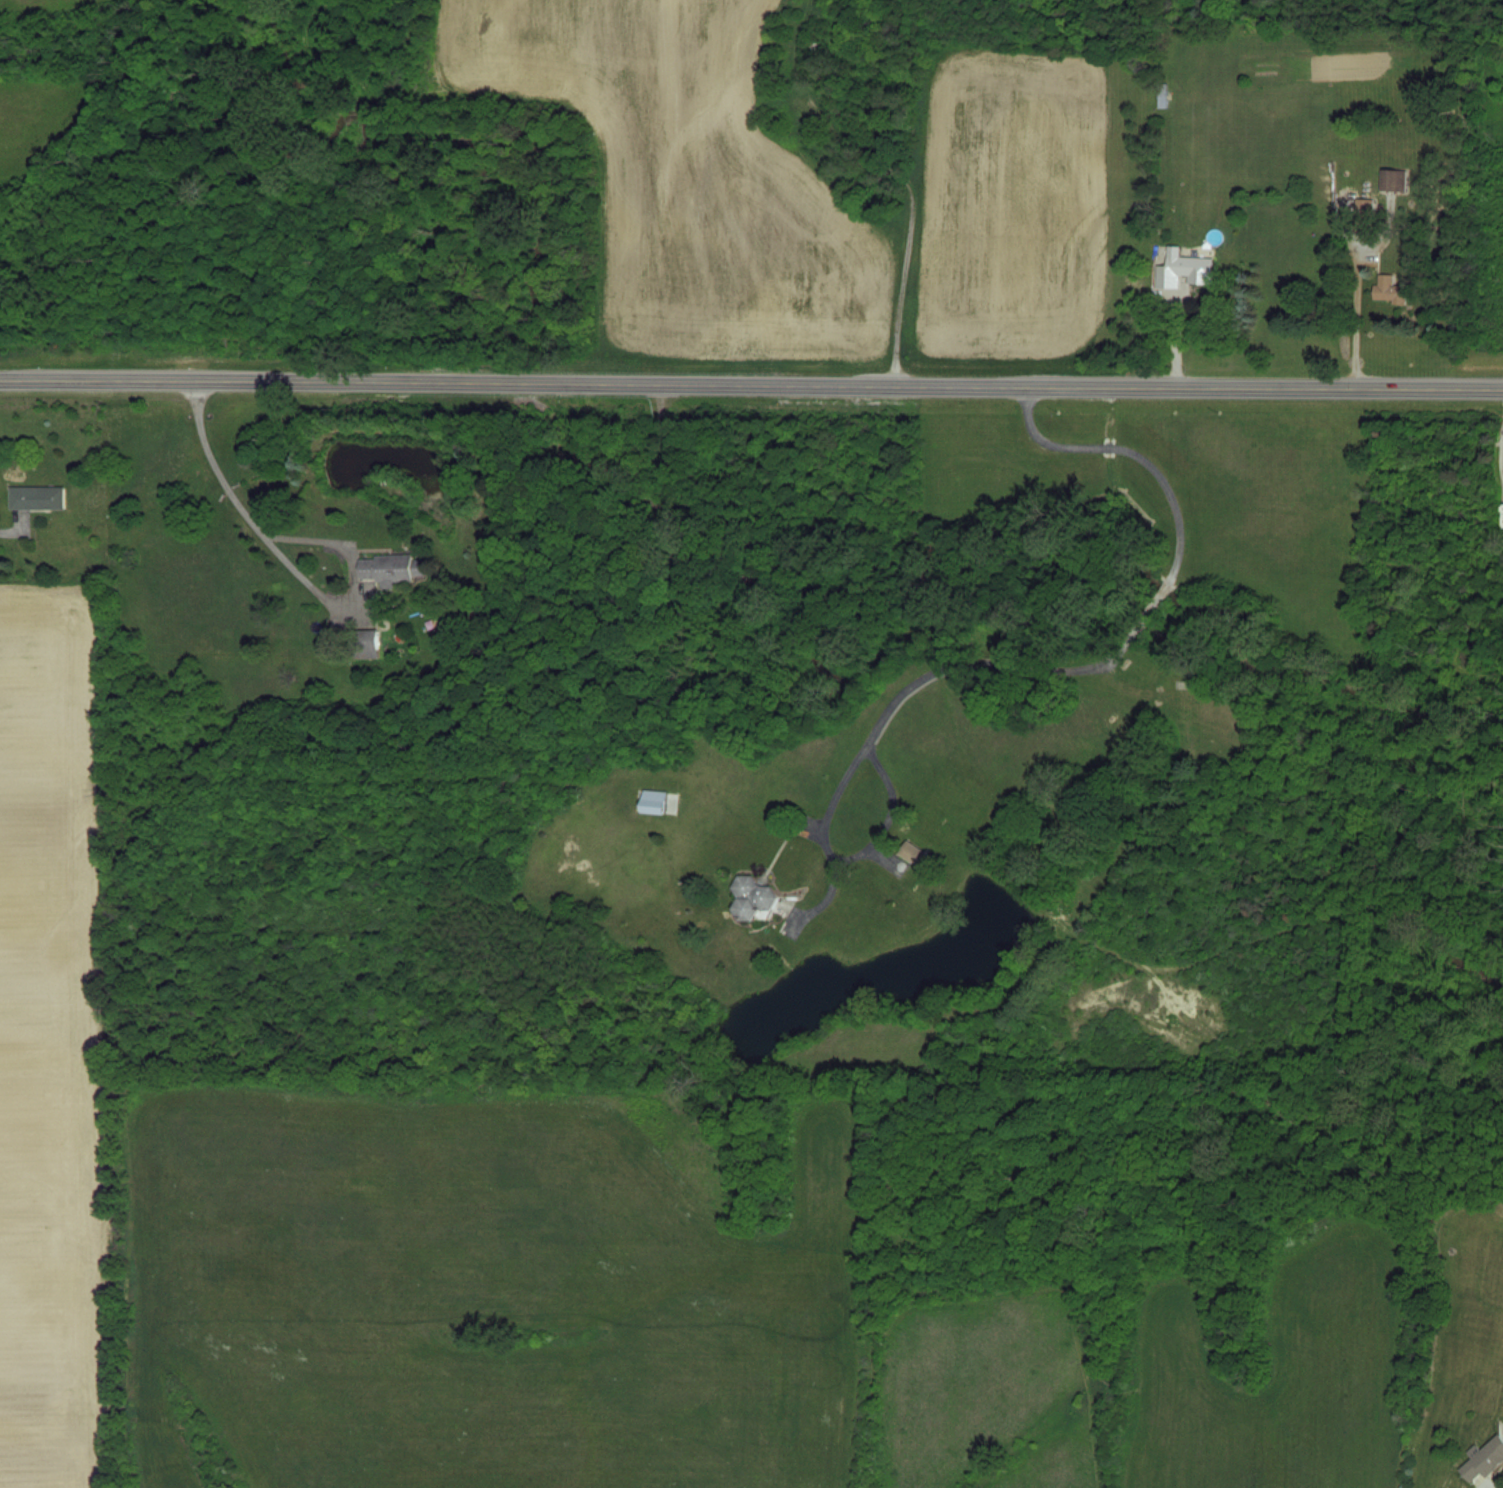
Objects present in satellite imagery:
building: (1392, 180)
building: (1183, 269)
building: (1387, 290)
road: (751, 382)
road: (1499, 451)
building: (35, 497)
road: (4, 529)
road: (287, 562)
building: (389, 568)
road: (1066, 667)
road: (888, 815)
building: (763, 890)
building: (1483, 1460)

